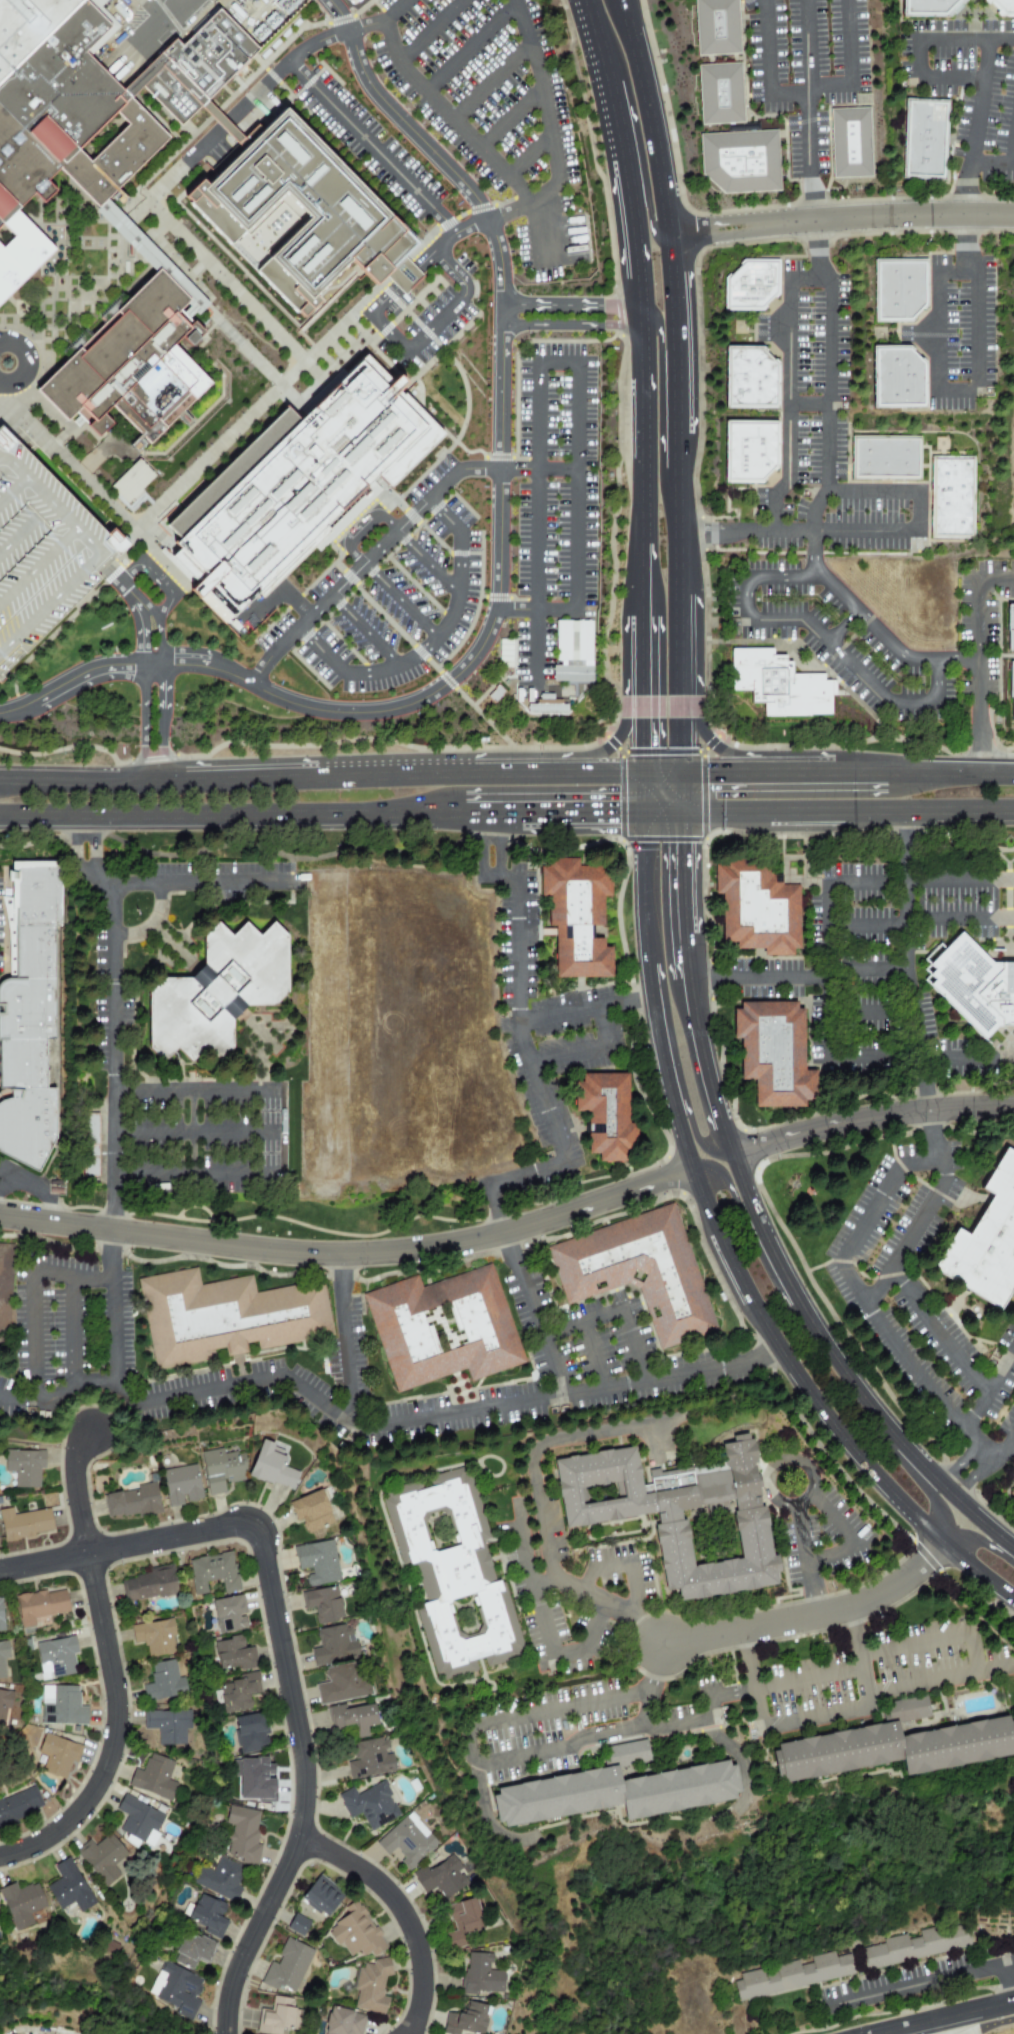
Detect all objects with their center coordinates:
building: (1002, 7)
building: (931, 8)
building: (26, 26)
road: (165, 28)
road: (429, 30)
building: (723, 31)
road: (965, 40)
road: (848, 43)
road: (470, 47)
road: (767, 47)
road: (917, 59)
road: (950, 76)
road: (598, 79)
road: (491, 81)
road: (266, 83)
road: (829, 86)
road: (544, 88)
road: (807, 88)
road: (789, 95)
building: (726, 99)
road: (979, 101)
road: (448, 114)
road: (512, 116)
road: (662, 116)
building: (63, 133)
building: (926, 139)
building: (850, 143)
road: (636, 146)
road: (372, 147)
road: (530, 153)
road: (1013, 156)
road: (991, 162)
building: (746, 167)
road: (965, 189)
road: (812, 198)
building: (299, 214)
road: (499, 215)
road: (848, 220)
road: (539, 232)
road: (626, 232)
road: (965, 244)
road: (817, 251)
road: (451, 271)
road: (956, 272)
road: (810, 279)
building: (754, 286)
building: (897, 289)
road: (682, 292)
road: (385, 296)
road: (567, 305)
road: (437, 322)
road: (568, 327)
road: (936, 330)
road: (660, 331)
road: (978, 333)
road: (557, 362)
building: (131, 363)
road: (3, 369)
building: (752, 378)
building: (896, 378)
road: (953, 389)
road: (809, 405)
road: (682, 408)
road: (788, 408)
building: (751, 450)
building: (887, 457)
road: (635, 460)
building: (131, 485)
building: (293, 486)
road: (577, 487)
road: (870, 491)
building: (954, 497)
road: (917, 511)
road: (813, 524)
road: (535, 526)
road: (361, 527)
road: (682, 528)
road: (395, 530)
road: (865, 532)
road: (747, 534)
building: (42, 552)
parking garage: (42, 552)
road: (500, 560)
road: (425, 562)
road: (779, 576)
road: (997, 583)
road: (129, 590)
road: (168, 595)
road: (400, 600)
road: (746, 601)
road: (295, 603)
road: (265, 606)
road: (537, 611)
road: (153, 617)
building: (1010, 622)
road: (841, 627)
road: (365, 630)
road: (142, 636)
road: (680, 637)
road: (432, 642)
road: (830, 643)
building: (572, 652)
road: (980, 678)
road: (936, 681)
building: (782, 683)
building: (1012, 687)
road: (912, 703)
building: (547, 707)
road: (640, 714)
road: (162, 721)
road: (142, 722)
road: (680, 728)
road: (609, 745)
traffic signals: (641, 745)
road: (767, 755)
road: (847, 773)
traffic signals: (715, 774)
road: (340, 776)
road: (4, 782)
road: (681, 793)
road: (507, 813)
traffic signals: (615, 813)
road: (87, 839)
road: (492, 844)
traffic signals: (683, 849)
road: (100, 872)
road: (683, 874)
road: (919, 881)
road: (252, 883)
road: (906, 895)
building: (756, 905)
building: (585, 918)
road: (960, 919)
road: (150, 923)
road: (866, 926)
road: (515, 938)
road: (688, 957)
building: (975, 984)
building: (226, 990)
road: (828, 990)
road: (651, 994)
building: (35, 1023)
road: (588, 1052)
road: (673, 1055)
building: (773, 1055)
road: (851, 1058)
road: (967, 1059)
road: (706, 1067)
road: (535, 1085)
road: (258, 1091)
building: (613, 1113)
road: (871, 1119)
road: (152, 1131)
road: (191, 1135)
building: (89, 1145)
road: (936, 1153)
road: (925, 1215)
road: (751, 1236)
building: (985, 1244)
road: (350, 1256)
building: (645, 1273)
building: (7, 1292)
building: (230, 1319)
road: (569, 1323)
road: (73, 1328)
building: (448, 1330)
road: (34, 1339)
road: (944, 1344)
road: (843, 1371)
road: (705, 1372)
road: (795, 1372)
road: (605, 1376)
road: (627, 1386)
road: (18, 1399)
road: (165, 1399)
road: (973, 1412)
road: (408, 1422)
road: (656, 1441)
road: (1002, 1451)
road: (775, 1464)
building: (272, 1466)
building: (24, 1467)
building: (221, 1469)
road: (961, 1470)
road: (917, 1481)
building: (180, 1485)
road: (81, 1493)
building: (1013, 1493)
building: (132, 1501)
road: (542, 1502)
building: (310, 1510)
road: (796, 1520)
building: (682, 1521)
building: (23, 1523)
road: (980, 1542)
road: (524, 1543)
road: (117, 1550)
road: (633, 1551)
road: (832, 1555)
building: (317, 1562)
building: (212, 1572)
road: (977, 1572)
building: (455, 1573)
building: (149, 1584)
building: (322, 1604)
building: (39, 1605)
building: (228, 1613)
road: (811, 1616)
building: (0, 1617)
building: (154, 1636)
building: (334, 1644)
road: (550, 1645)
building: (233, 1654)
building: (55, 1657)
building: (3, 1658)
road: (996, 1664)
road: (978, 1671)
building: (162, 1681)
building: (341, 1683)
road: (770, 1685)
building: (238, 1693)
building: (4, 1703)
building: (61, 1705)
building: (910, 1708)
building: (354, 1717)
road: (769, 1721)
building: (166, 1726)
building: (250, 1732)
road: (468, 1734)
road: (117, 1735)
building: (895, 1750)
building: (627, 1752)
building: (56, 1755)
building: (370, 1758)
road: (740, 1761)
building: (153, 1778)
road: (305, 1778)
building: (619, 1794)
building: (369, 1804)
building: (19, 1806)
road: (487, 1819)
building: (138, 1822)
building: (242, 1834)
building: (407, 1840)
building: (104, 1858)
building: (441, 1878)
building: (220, 1879)
building: (68, 1887)
building: (321, 1896)
building: (21, 1903)
building: (207, 1915)
road: (404, 1915)
building: (462, 1922)
building: (297, 1925)
building: (355, 1932)
building: (918, 1948)
building: (192, 1950)
building: (288, 1967)
building: (479, 1975)
building: (795, 1978)
road: (1009, 1983)
building: (371, 1985)
road: (920, 1985)
building: (177, 1990)
road: (46, 2014)
building: (276, 2016)
road: (947, 2018)
building: (465, 2019)
building: (343, 2022)
road: (995, 2023)
park: (991, 2028)
road: (973, 2032)

